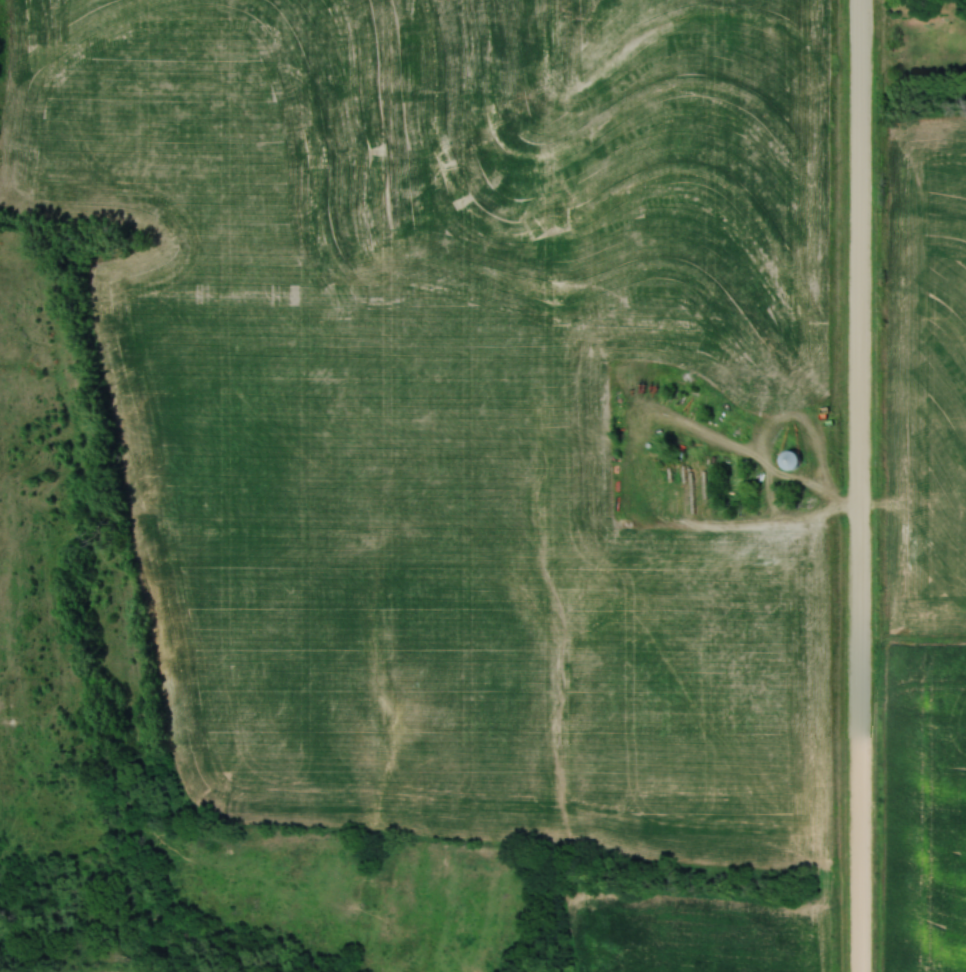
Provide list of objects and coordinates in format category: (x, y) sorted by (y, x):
building: (787, 460)
road: (860, 486)

